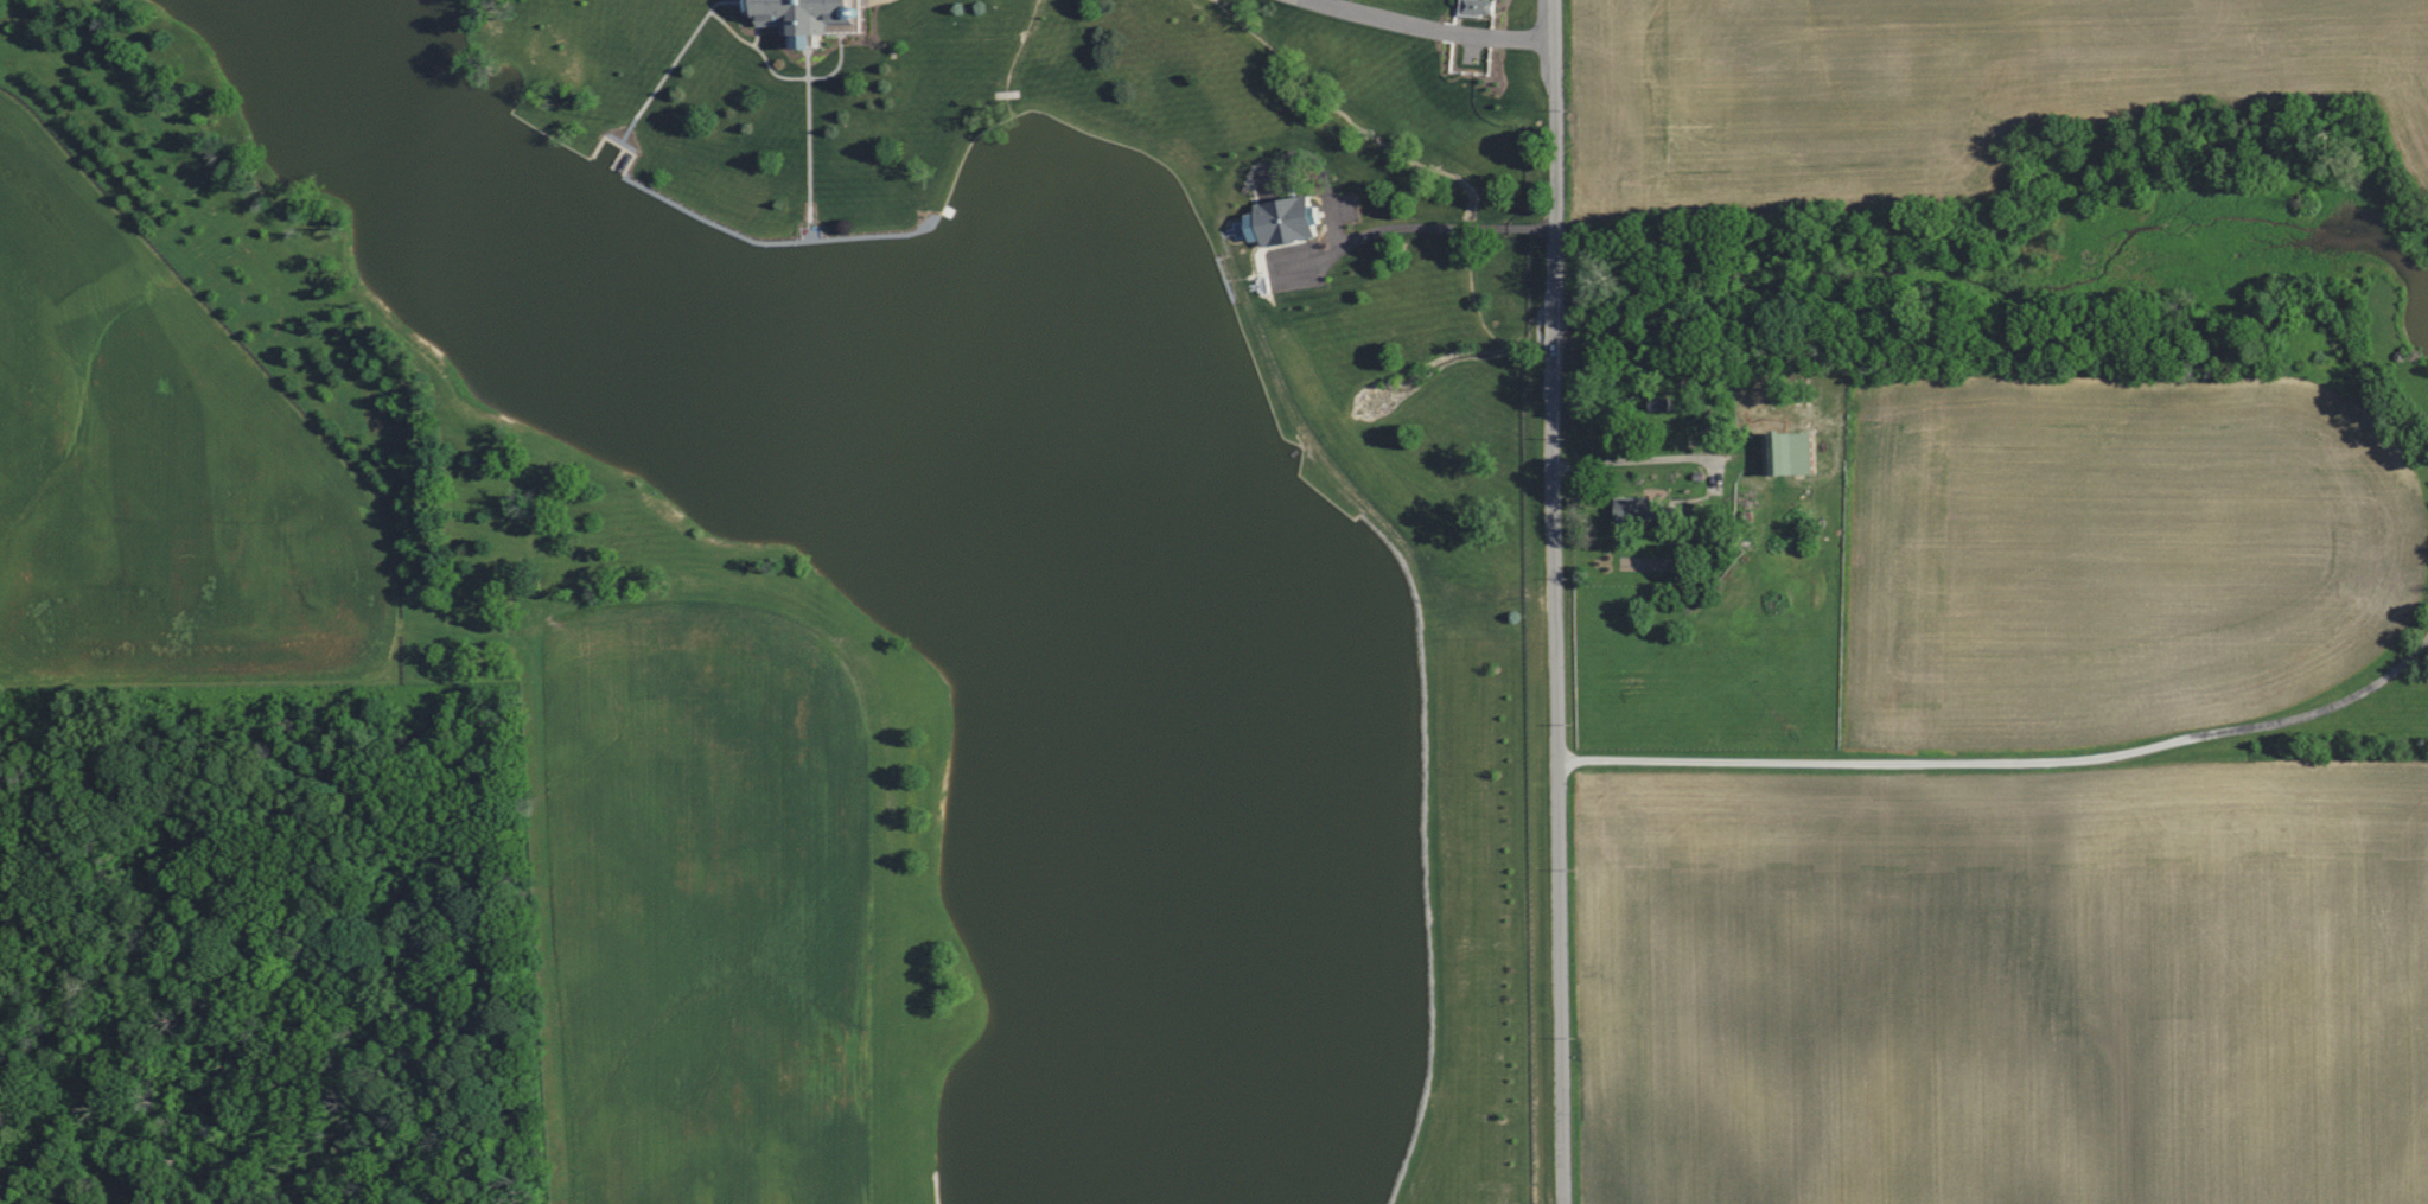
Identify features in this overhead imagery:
building: (1473, 6)
building: (816, 18)
road: (1435, 24)
building: (1273, 218)
road: (1413, 225)
building: (1784, 451)
road: (1631, 458)
building: (1627, 508)
road: (1554, 601)
road: (2008, 754)

